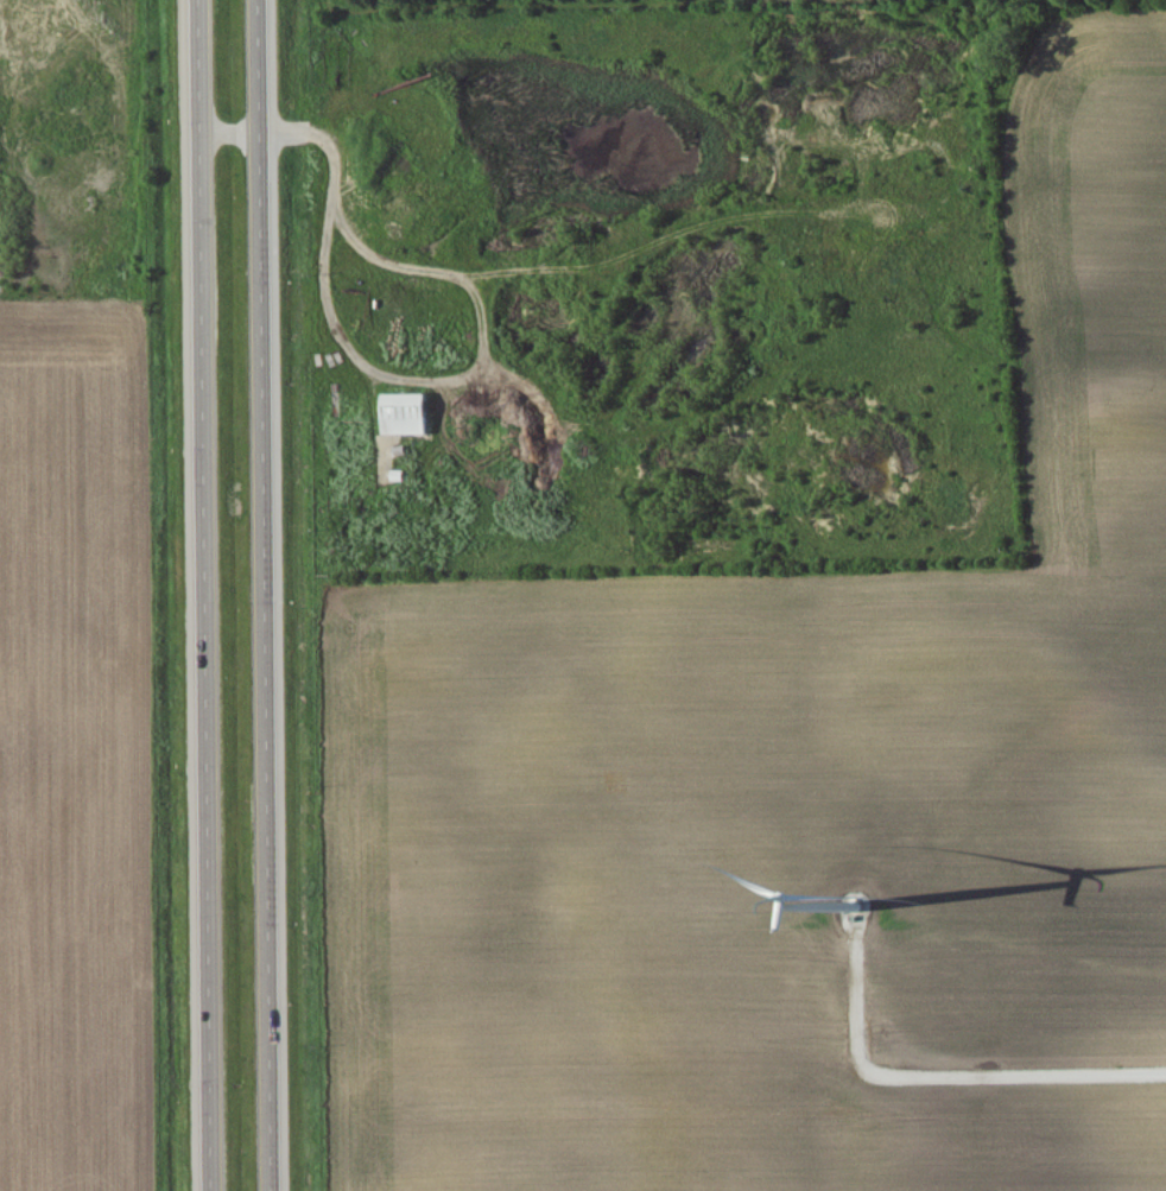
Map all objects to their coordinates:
road: (234, 133)
road: (324, 259)
building: (408, 416)
road: (207, 595)
road: (268, 595)
wind turbine: (847, 907)
road: (943, 1073)

